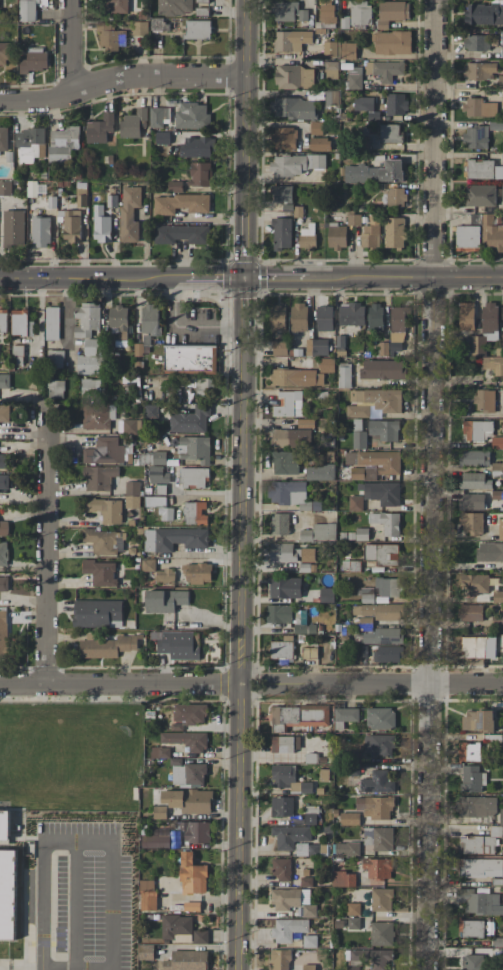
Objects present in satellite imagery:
building: (121, 6)
building: (174, 7)
building: (201, 7)
building: (29, 9)
building: (289, 12)
building: (391, 12)
building: (327, 13)
building: (484, 13)
building: (360, 14)
building: (344, 22)
building: (140, 28)
building: (197, 30)
building: (111, 38)
building: (291, 40)
building: (476, 42)
road: (73, 43)
building: (392, 43)
building: (502, 45)
building: (330, 49)
building: (348, 51)
building: (3, 53)
building: (33, 60)
building: (331, 70)
building: (387, 70)
building: (478, 71)
road: (119, 76)
building: (294, 77)
building: (354, 77)
building: (500, 82)
building: (331, 98)
building: (363, 104)
building: (396, 104)
building: (293, 108)
building: (479, 108)
building: (158, 116)
building: (192, 116)
building: (133, 123)
building: (99, 128)
building: (316, 128)
building: (390, 133)
building: (475, 137)
building: (284, 138)
road: (431, 138)
building: (3, 140)
building: (319, 144)
building: (30, 145)
building: (63, 145)
building: (197, 147)
building: (295, 164)
building: (483, 169)
building: (375, 173)
building: (200, 174)
building: (175, 186)
building: (5, 188)
building: (31, 188)
building: (281, 194)
building: (479, 195)
building: (396, 197)
building: (179, 204)
building: (129, 213)
building: (352, 220)
building: (101, 225)
building: (71, 226)
building: (13, 228)
building: (40, 231)
building: (394, 232)
building: (281, 233)
building: (491, 233)
building: (181, 234)
building: (370, 234)
building: (336, 236)
building: (467, 237)
building: (306, 238)
road: (92, 277)
road: (214, 277)
traffic signals: (243, 277)
road: (275, 277)
road: (369, 277)
road: (466, 277)
building: (351, 314)
building: (375, 316)
building: (466, 316)
building: (299, 317)
building: (277, 318)
building: (324, 318)
building: (86, 319)
building: (150, 319)
building: (119, 320)
building: (3, 321)
building: (21, 323)
building: (51, 323)
building: (398, 324)
road: (185, 327)
building: (486, 328)
road: (242, 342)
building: (316, 347)
building: (279, 348)
building: (91, 357)
building: (190, 359)
building: (493, 364)
building: (326, 365)
building: (383, 369)
building: (344, 375)
building: (296, 377)
building: (4, 380)
building: (203, 385)
building: (90, 387)
building: (55, 389)
building: (379, 399)
building: (484, 400)
building: (289, 404)
building: (150, 411)
building: (357, 411)
building: (4, 414)
building: (97, 416)
building: (190, 420)
building: (305, 423)
building: (129, 426)
building: (384, 430)
building: (477, 430)
building: (290, 438)
building: (359, 440)
building: (497, 442)
building: (194, 449)
building: (104, 451)
building: (159, 458)
building: (474, 458)
building: (147, 459)
building: (376, 460)
building: (3, 461)
building: (284, 462)
building: (497, 466)
building: (320, 472)
building: (363, 473)
building: (157, 475)
building: (99, 478)
building: (193, 478)
road: (428, 480)
building: (474, 481)
building: (4, 482)
building: (132, 487)
building: (287, 492)
building: (382, 493)
building: (132, 501)
building: (154, 501)
building: (355, 501)
building: (471, 502)
building: (106, 510)
building: (194, 513)
building: (166, 514)
building: (386, 522)
building: (279, 523)
building: (471, 523)
building: (3, 528)
building: (500, 529)
building: (319, 532)
building: (174, 539)
road: (41, 541)
building: (105, 541)
building: (489, 552)
building: (3, 553)
building: (284, 553)
building: (382, 553)
building: (100, 572)
building: (197, 573)
building: (164, 576)
building: (3, 583)
building: (474, 584)
building: (284, 587)
building: (387, 587)
building: (326, 595)
building: (366, 595)
building: (497, 596)
building: (164, 600)
building: (379, 611)
building: (470, 612)
building: (97, 613)
building: (278, 614)
building: (3, 632)
building: (380, 636)
building: (177, 644)
building: (107, 646)
building: (478, 647)
building: (281, 650)
building: (309, 652)
building: (387, 654)
road: (119, 684)
road: (371, 684)
building: (190, 714)
building: (346, 714)
building: (298, 716)
building: (380, 718)
building: (478, 720)
building: (186, 740)
building: (285, 744)
building: (378, 745)
building: (159, 752)
building: (468, 752)
building: (188, 774)
building: (289, 779)
building: (472, 779)
building: (377, 782)
building: (188, 800)
building: (477, 806)
building: (281, 807)
building: (374, 807)
building: (159, 812)
building: (310, 816)
building: (501, 817)
building: (349, 818)
building: (4, 825)
road: (239, 827)
road: (427, 827)
building: (195, 832)
building: (290, 836)
building: (378, 838)
building: (155, 839)
building: (480, 842)
building: (347, 848)
building: (304, 849)
road: (112, 850)
building: (377, 868)
building: (481, 868)
building: (282, 870)
building: (192, 875)
building: (343, 879)
building: (306, 881)
building: (7, 894)
building: (147, 895)
building: (288, 899)
building: (381, 899)
building: (479, 902)
building: (353, 909)
building: (353, 923)
building: (175, 926)
building: (287, 929)
building: (471, 929)
building: (381, 934)
building: (199, 936)
building: (309, 941)
building: (145, 952)
road: (40, 958)
building: (354, 958)
building: (279, 959)
building: (380, 959)
building: (186, 960)
building: (472, 962)

